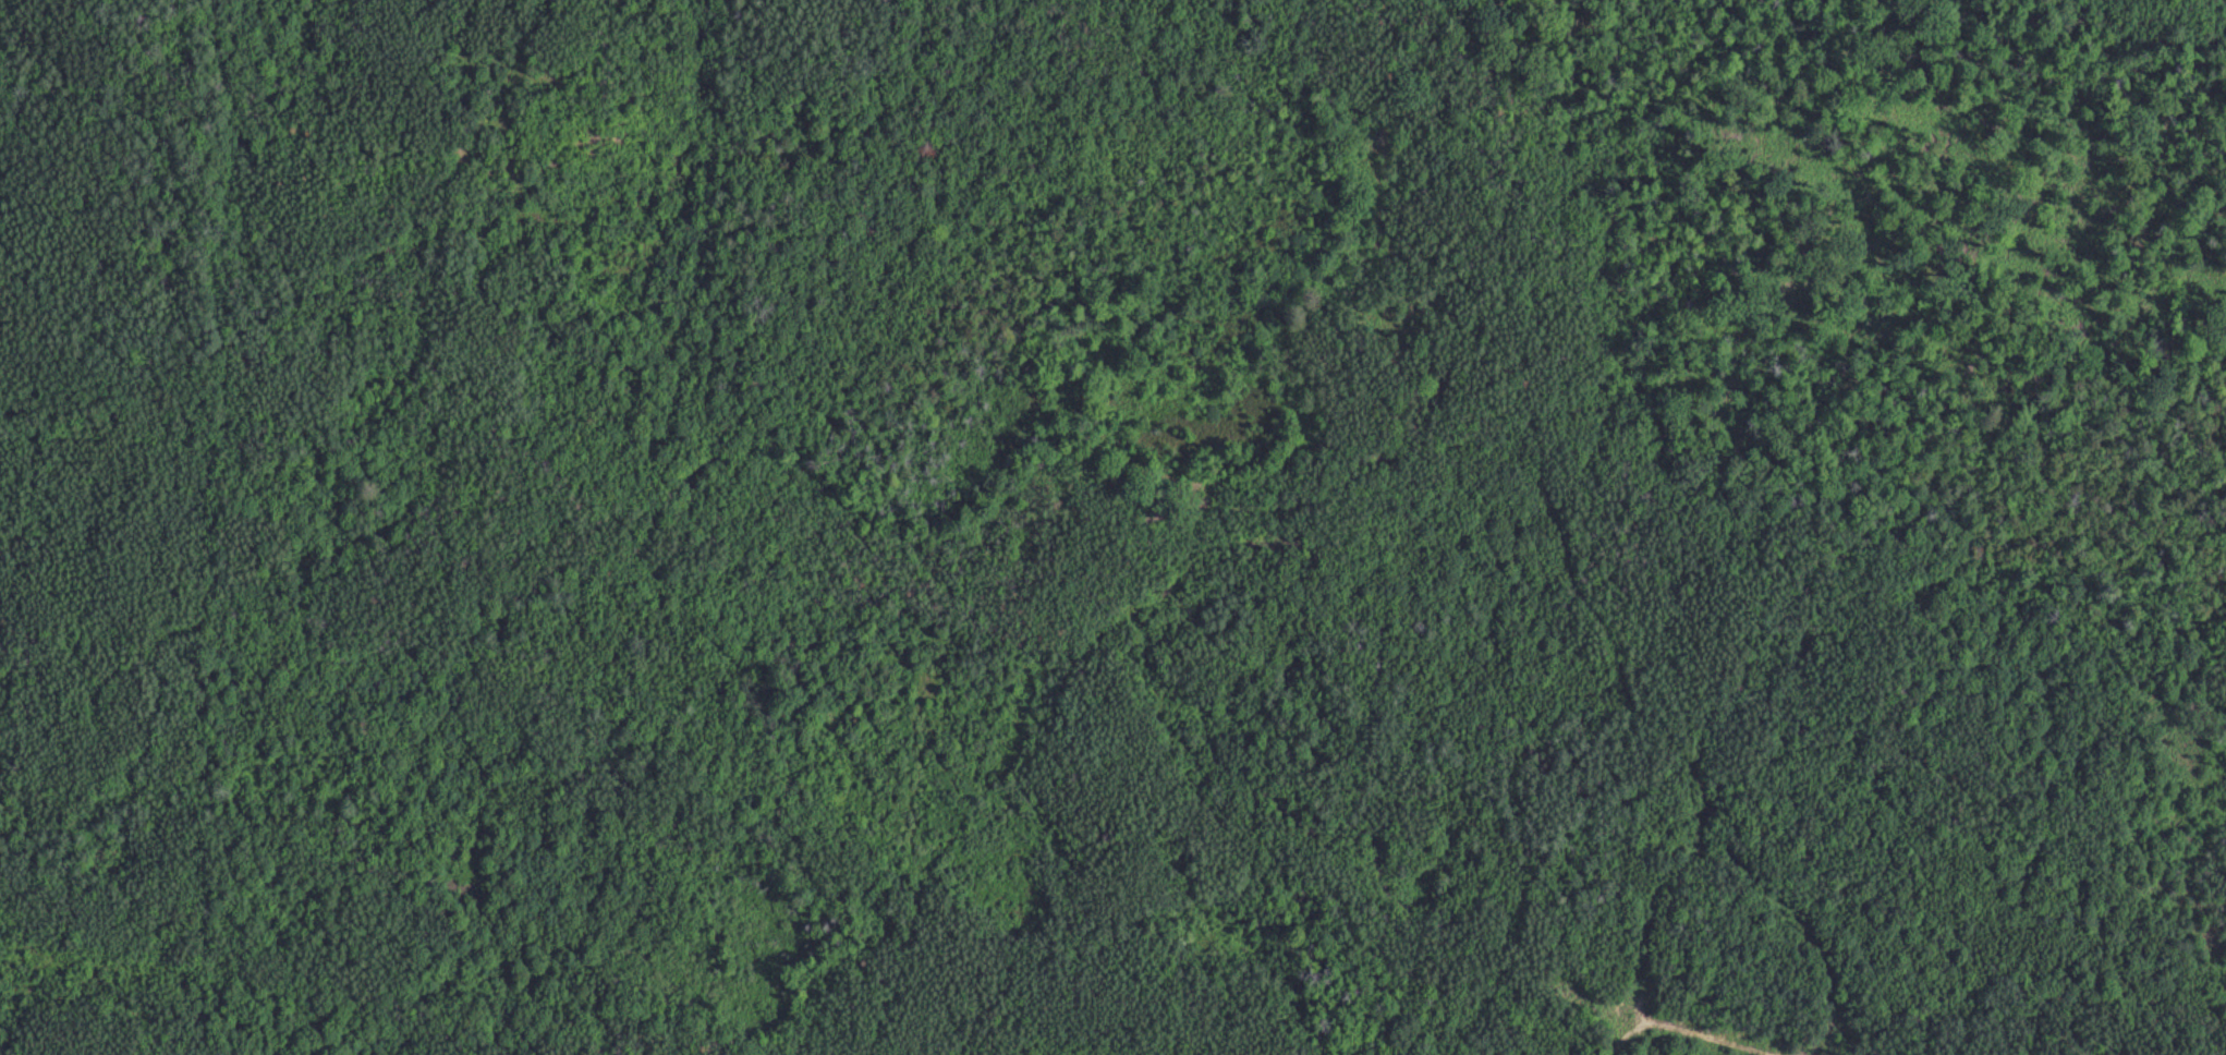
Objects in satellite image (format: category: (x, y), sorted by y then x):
road: (1674, 1036)

